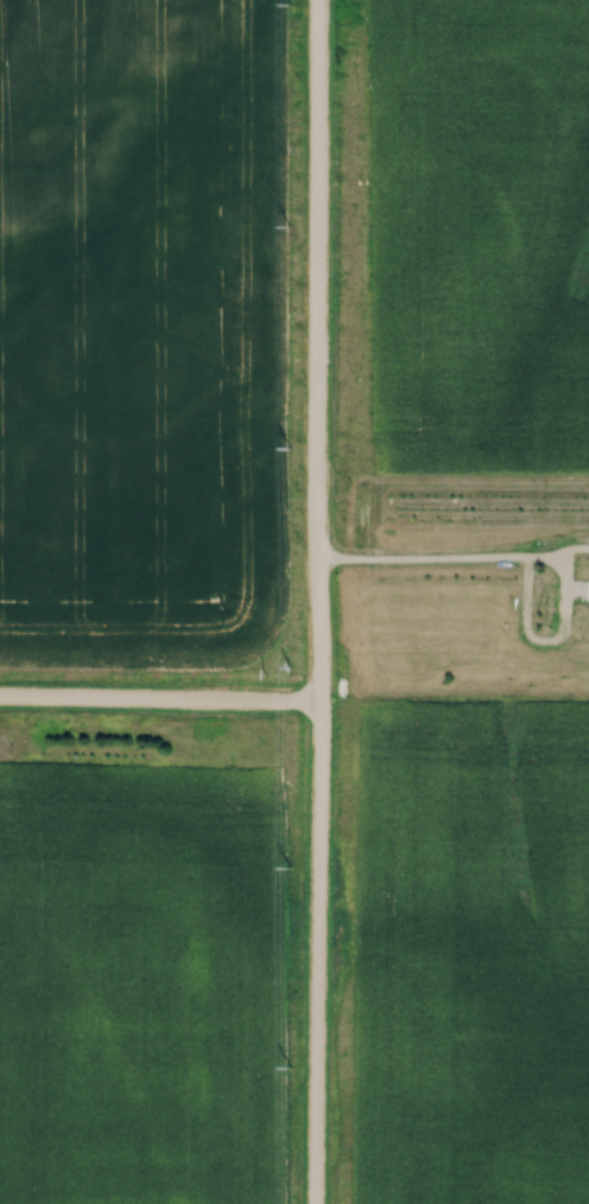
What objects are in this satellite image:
building: (585, 589)
road: (317, 602)
road: (158, 702)

